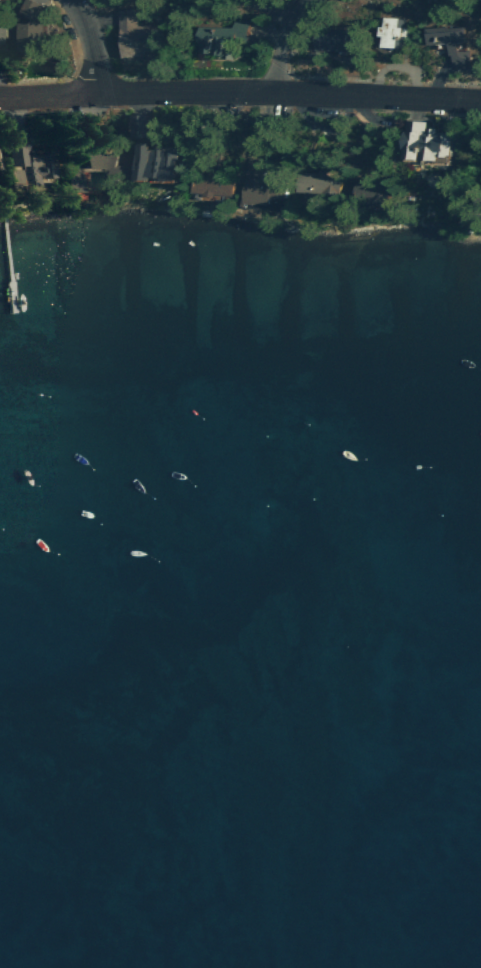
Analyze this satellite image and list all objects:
building: (32, 8)
building: (396, 34)
building: (4, 36)
building: (138, 37)
building: (35, 38)
building: (226, 39)
building: (340, 42)
building: (454, 43)
road: (285, 44)
road: (89, 45)
road: (240, 92)
building: (142, 128)
building: (430, 144)
building: (28, 164)
building: (156, 164)
building: (92, 171)
building: (324, 183)
building: (217, 186)
building: (263, 189)
pier: (4, 263)

